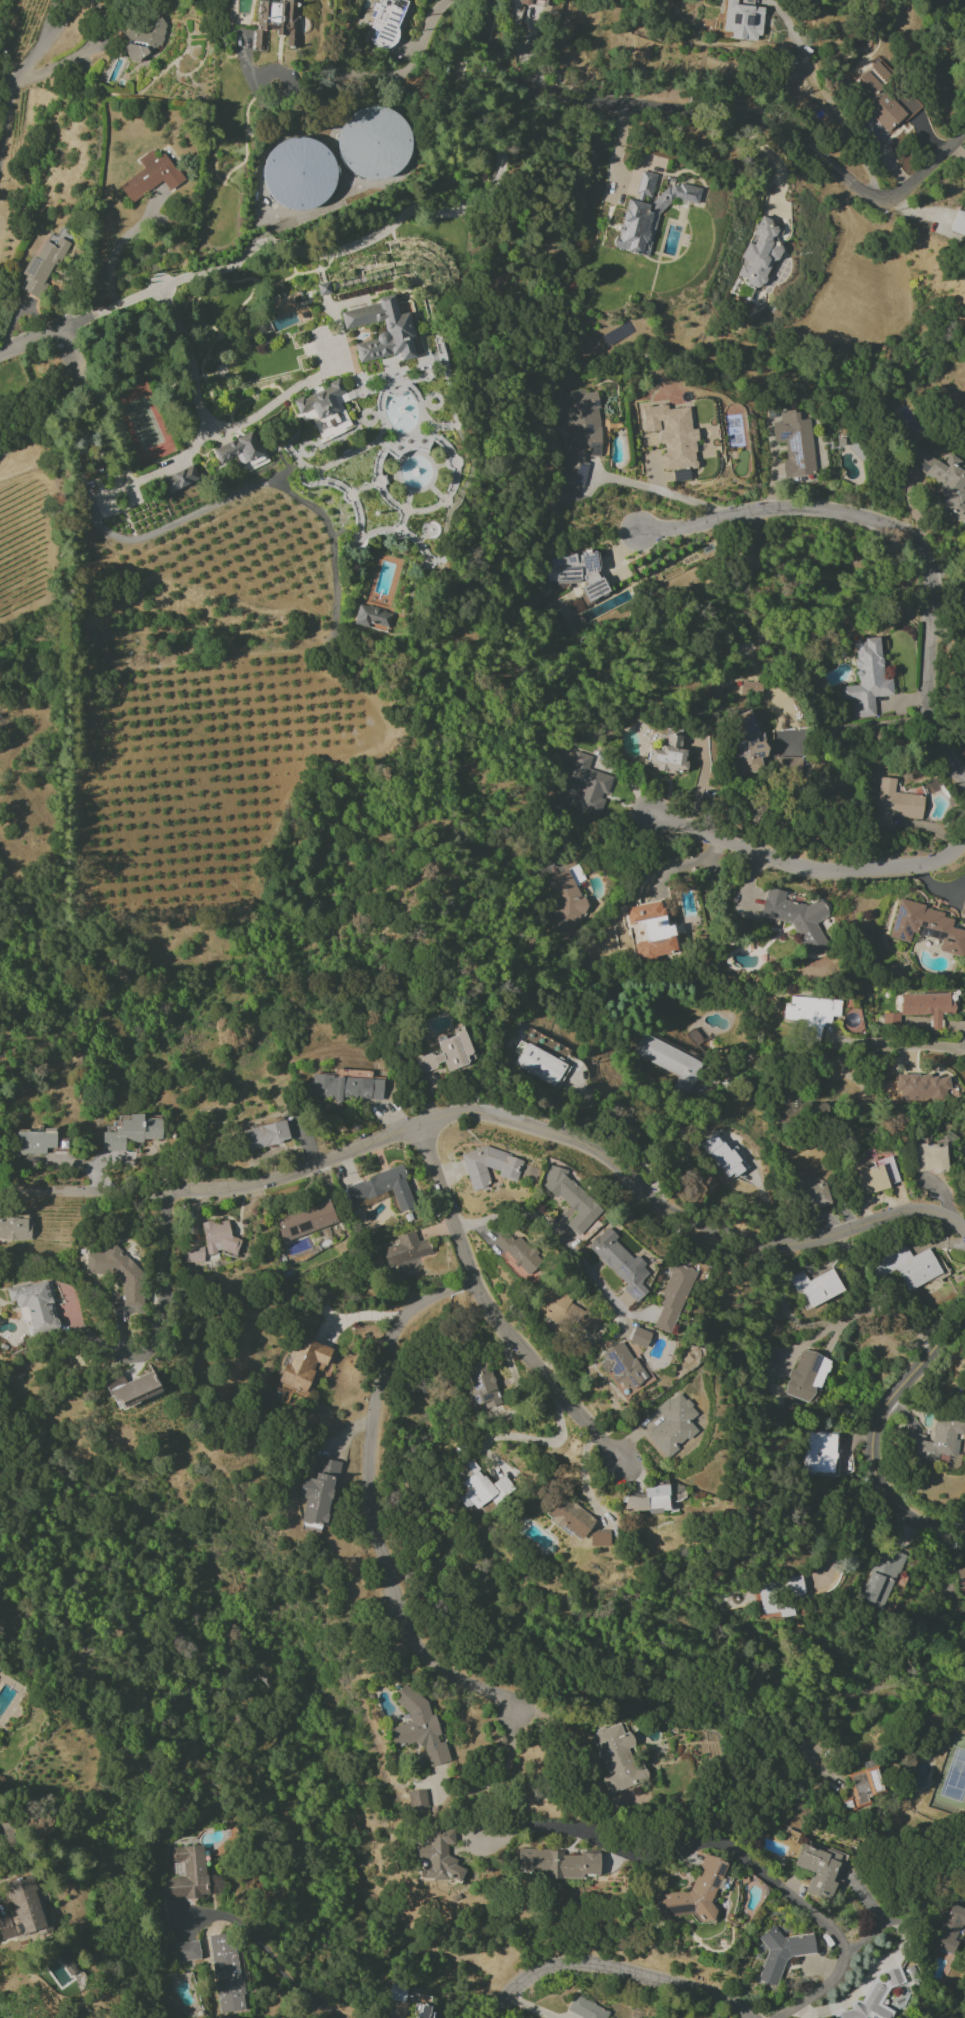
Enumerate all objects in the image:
building: (945, 0)
building: (534, 2)
building: (742, 21)
building: (275, 22)
building: (386, 22)
building: (144, 40)
road: (490, 41)
road: (518, 47)
road: (21, 73)
road: (8, 76)
road: (385, 77)
road: (826, 97)
building: (883, 97)
road: (756, 119)
building: (373, 144)
building: (298, 173)
building: (151, 176)
building: (645, 185)
road: (407, 215)
building: (648, 218)
building: (958, 223)
road: (119, 245)
building: (964, 246)
building: (760, 253)
building: (42, 265)
building: (964, 275)
road: (105, 310)
building: (396, 325)
road: (30, 342)
road: (282, 396)
road: (59, 401)
building: (324, 410)
road: (207, 426)
building: (580, 433)
building: (794, 443)
building: (238, 449)
building: (179, 478)
building: (942, 479)
road: (664, 492)
road: (195, 513)
road: (900, 531)
road: (945, 562)
building: (578, 573)
building: (373, 617)
building: (866, 678)
building: (750, 688)
crop: (218, 701)
building: (963, 737)
building: (747, 741)
building: (668, 755)
building: (789, 765)
building: (588, 785)
building: (894, 804)
road: (594, 840)
road: (811, 865)
building: (565, 902)
building: (963, 908)
building: (797, 919)
building: (964, 922)
building: (927, 927)
building: (652, 930)
building: (927, 1006)
building: (810, 1015)
building: (891, 1020)
road: (905, 1044)
building: (448, 1053)
building: (671, 1062)
building: (347, 1087)
building: (923, 1088)
building: (784, 1107)
road: (496, 1112)
building: (130, 1132)
building: (265, 1134)
building: (34, 1142)
building: (723, 1157)
building: (928, 1157)
building: (489, 1166)
building: (876, 1176)
building: (382, 1188)
building: (812, 1192)
building: (571, 1199)
building: (305, 1220)
building: (14, 1228)
road: (553, 1232)
building: (218, 1237)
building: (518, 1252)
building: (406, 1253)
building: (194, 1254)
building: (619, 1263)
building: (908, 1267)
building: (118, 1273)
building: (815, 1286)
building: (673, 1296)
building: (35, 1306)
road: (491, 1309)
building: (565, 1311)
road: (889, 1318)
road: (157, 1322)
building: (639, 1337)
building: (769, 1356)
building: (304, 1364)
building: (623, 1369)
building: (806, 1375)
building: (481, 1386)
building: (132, 1388)
building: (672, 1424)
road: (879, 1433)
road: (536, 1441)
building: (935, 1441)
building: (821, 1453)
building: (480, 1487)
building: (318, 1493)
building: (647, 1499)
road: (371, 1503)
road: (840, 1513)
building: (568, 1517)
building: (599, 1538)
building: (881, 1577)
building: (960, 1577)
building: (780, 1595)
building: (418, 1727)
road: (563, 1736)
building: (617, 1758)
road: (498, 1779)
building: (863, 1788)
building: (416, 1799)
building: (438, 1857)
road: (749, 1861)
building: (557, 1863)
building: (819, 1868)
building: (694, 1893)
building: (21, 1909)
road: (872, 1916)
building: (949, 1928)
building: (188, 1950)
building: (781, 1953)
road: (614, 1968)
building: (226, 1973)
road: (282, 1976)
road: (850, 1995)
building: (586, 2009)
road: (4, 2013)

